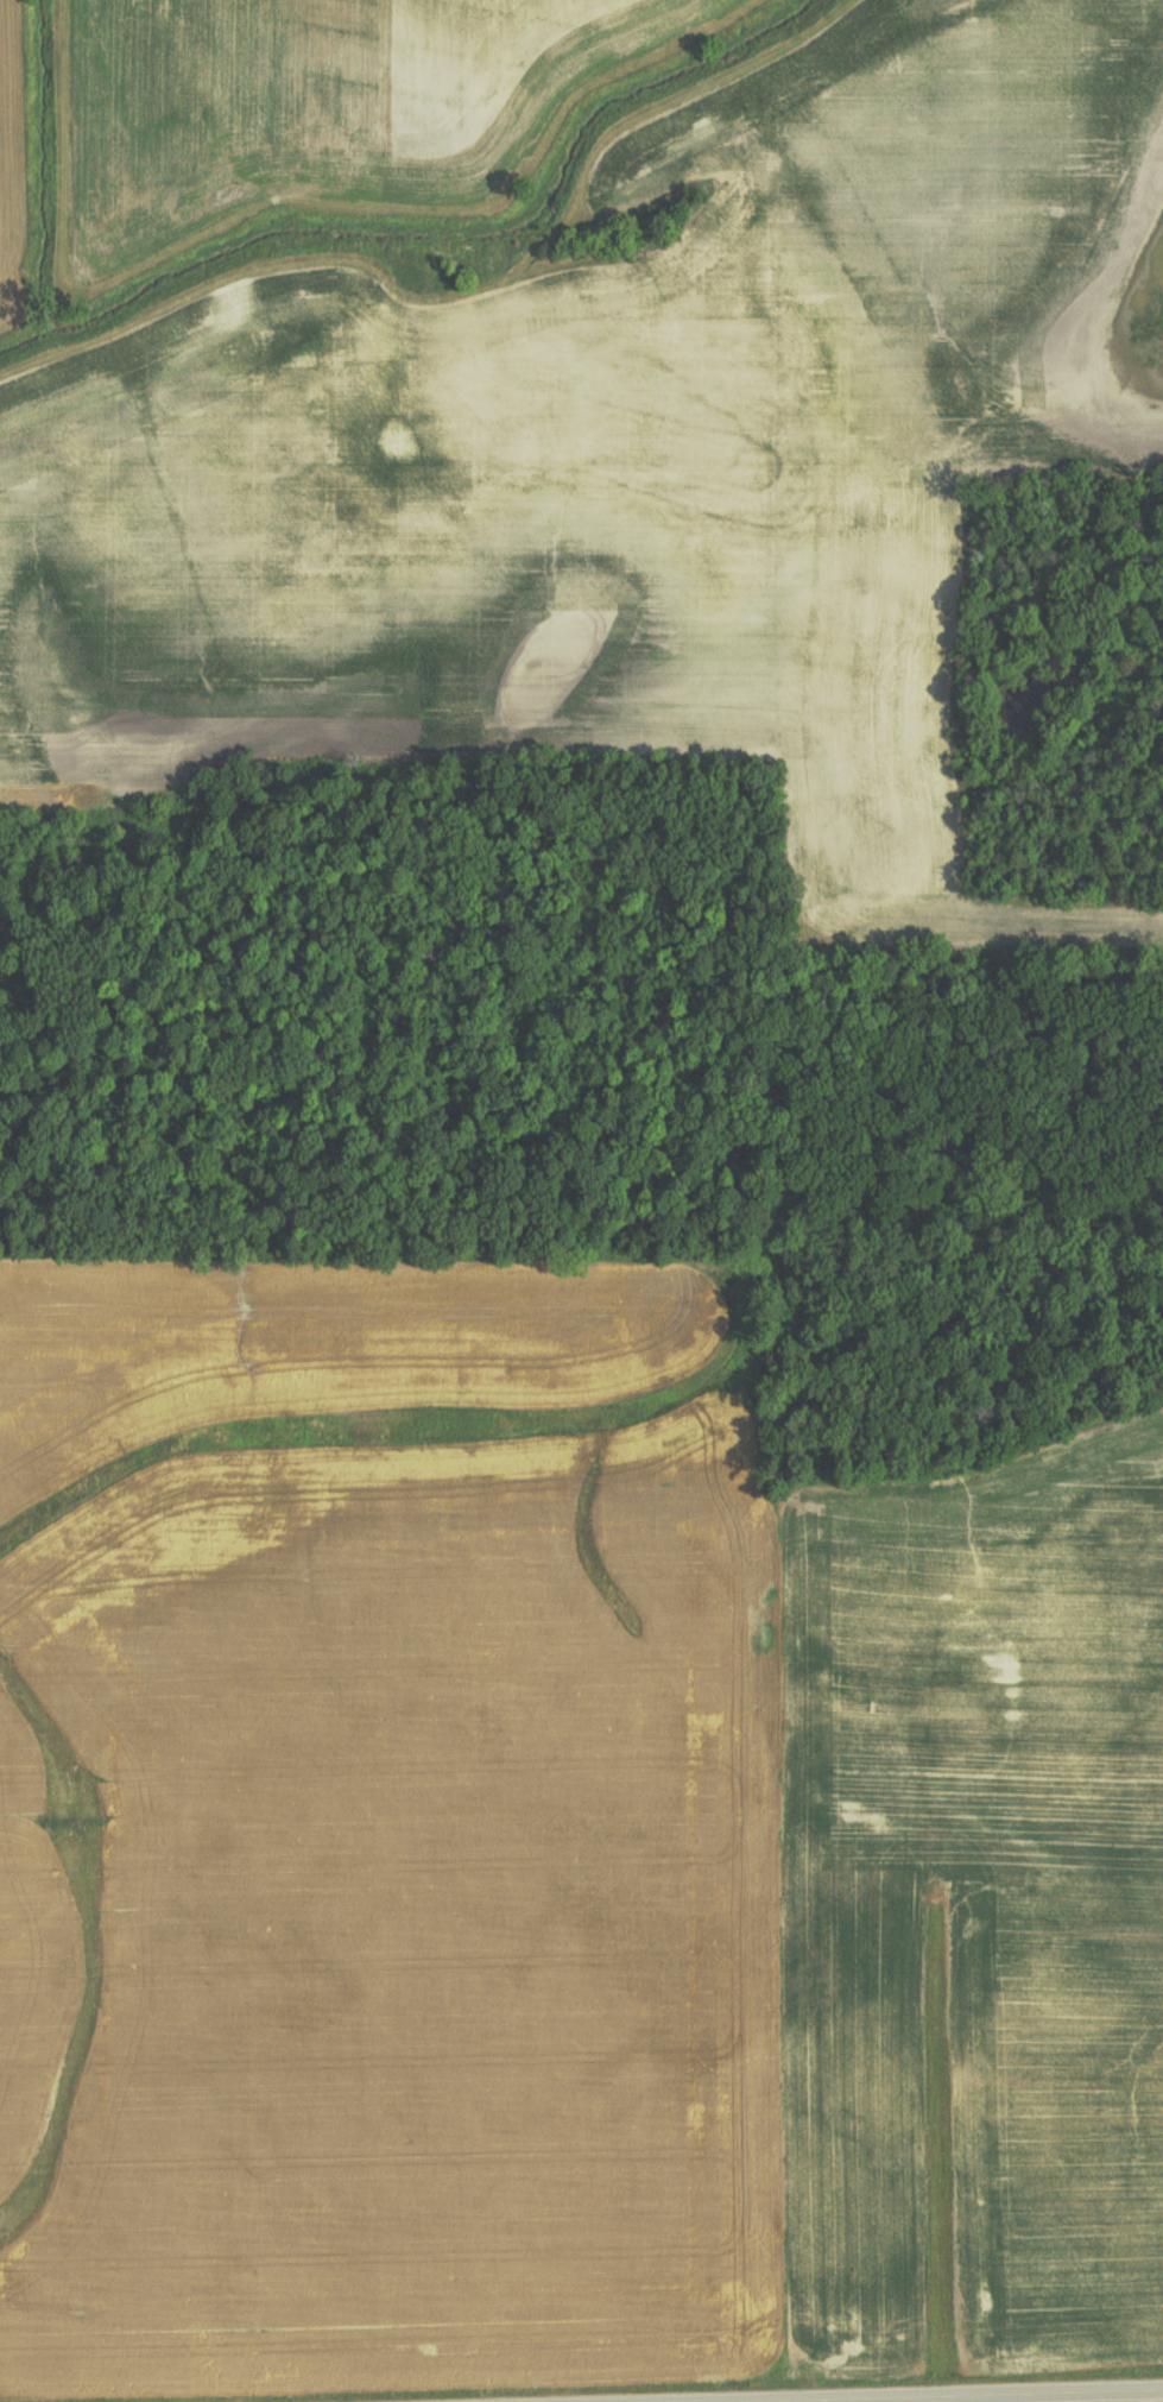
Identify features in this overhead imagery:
crop: (411, 1922)
road: (1050, 2398)
road: (1148, 2398)
road: (1066, 2400)

